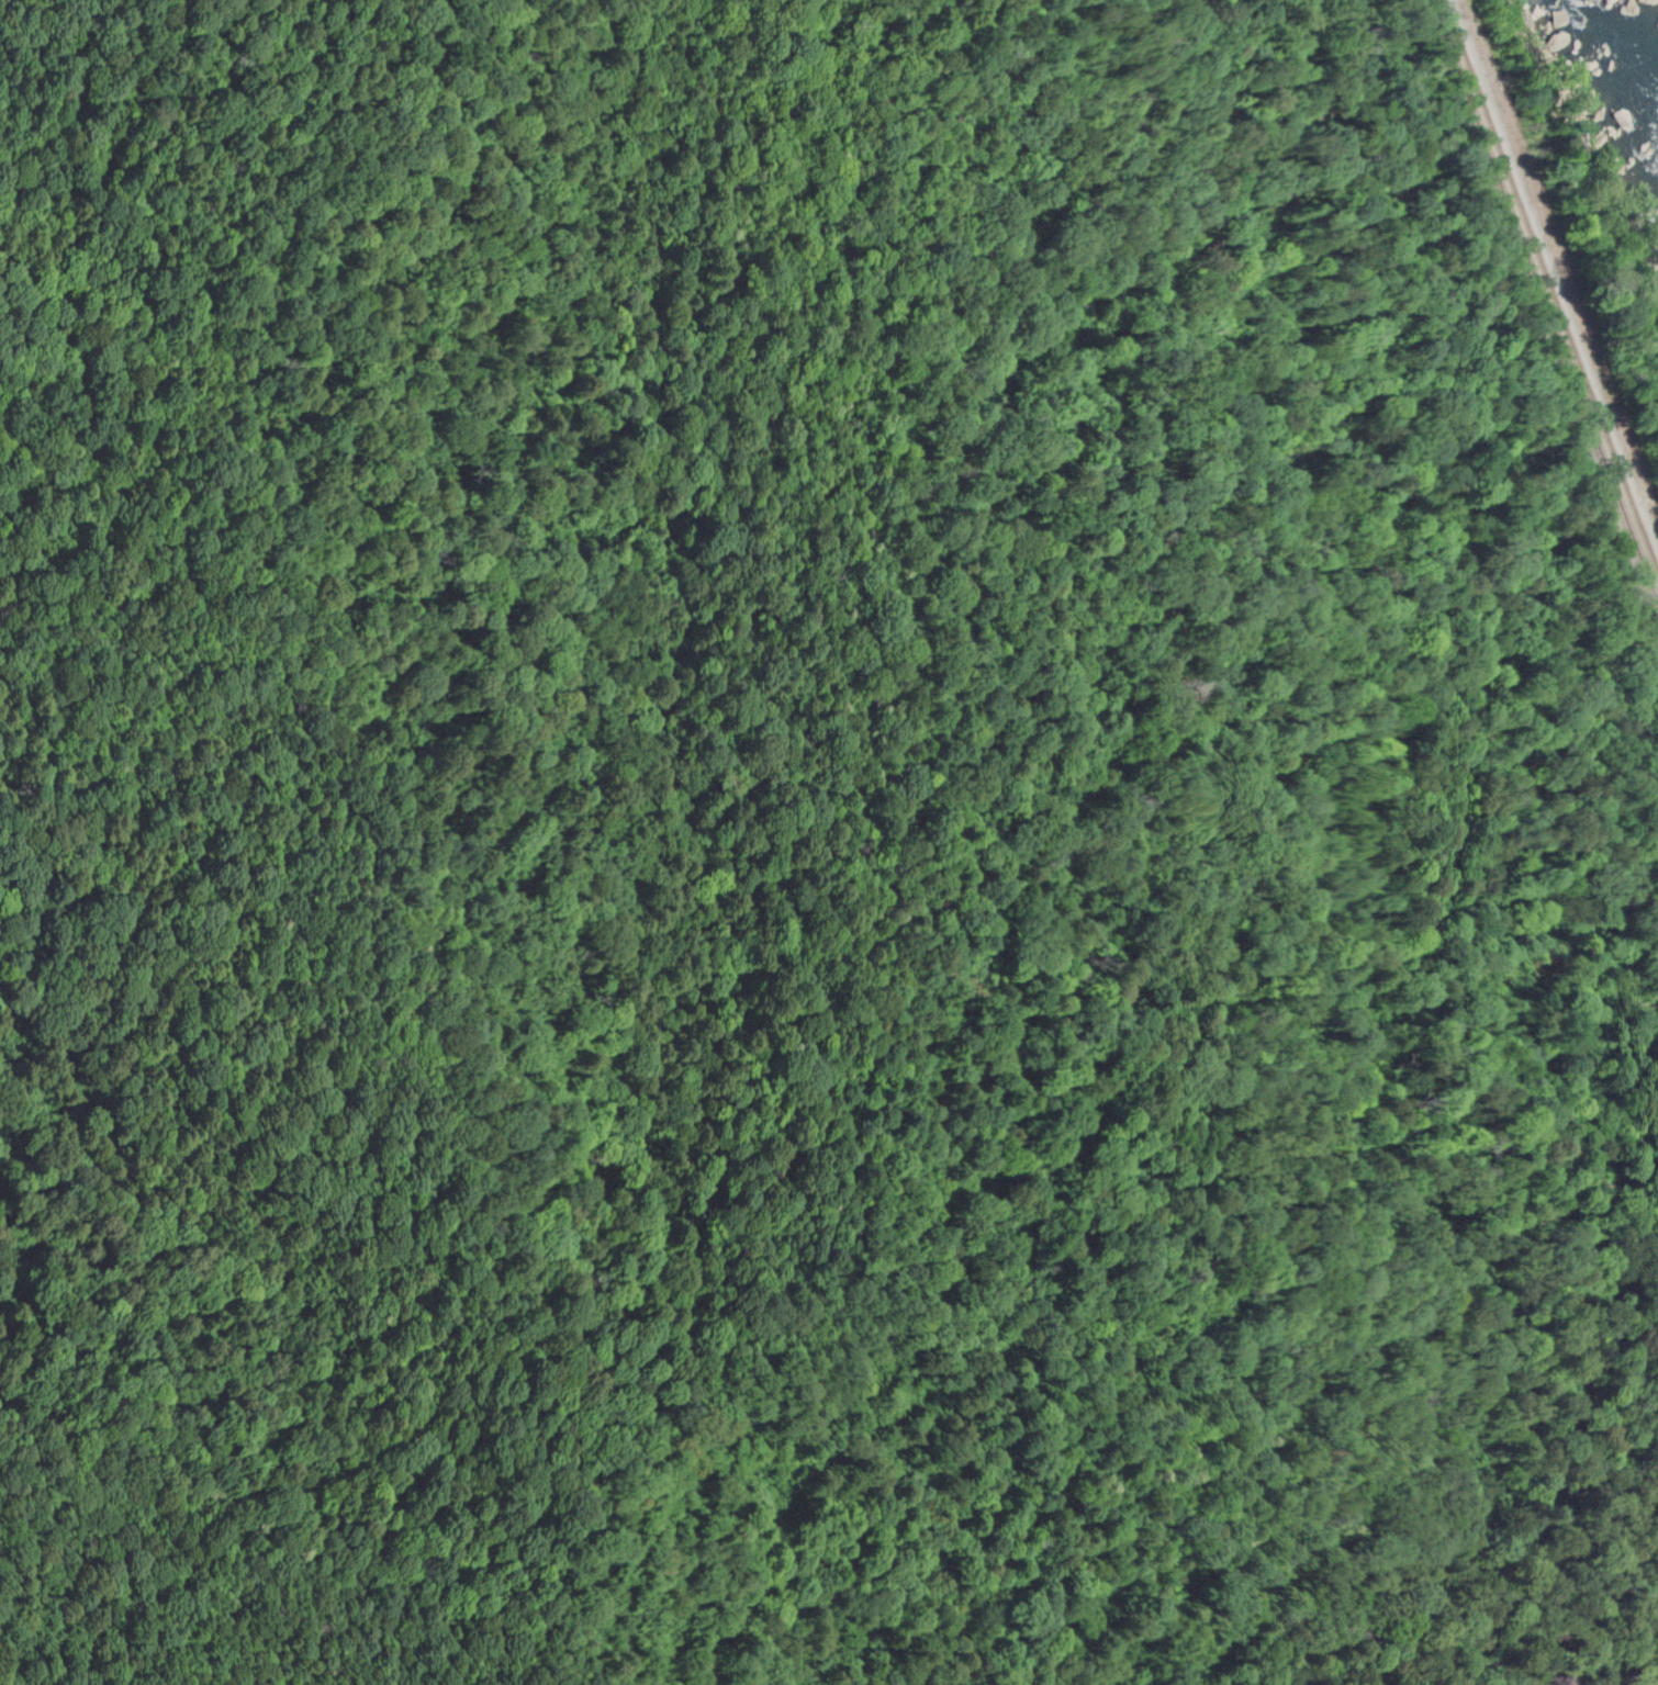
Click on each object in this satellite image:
river: (1623, 102)
railway: (1550, 287)
railway: (1545, 301)
road: (726, 1193)

